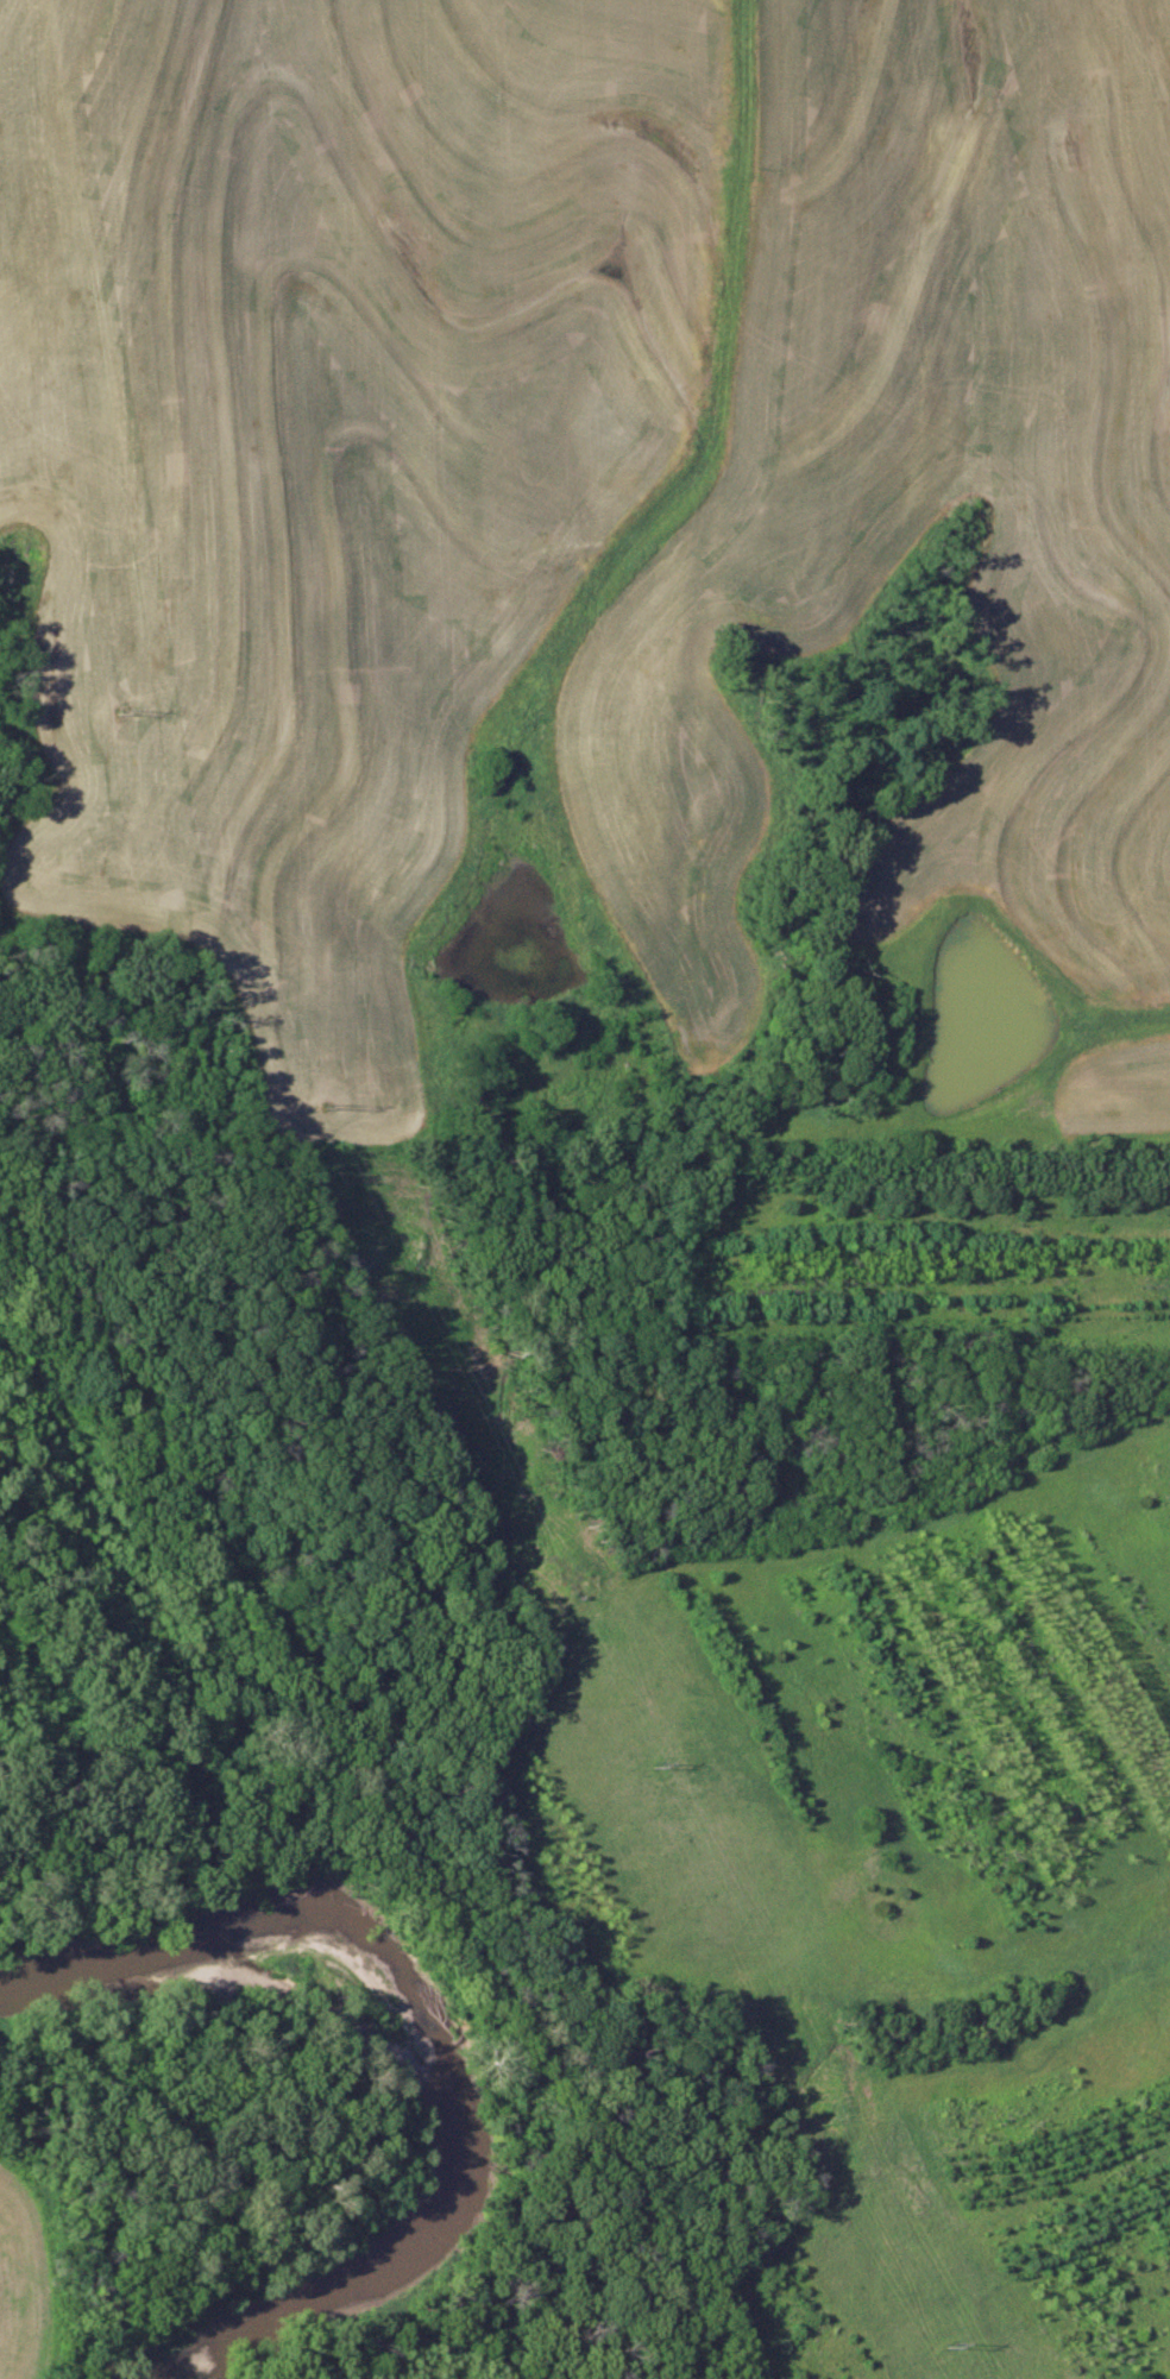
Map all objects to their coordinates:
river: (445, 2057)

